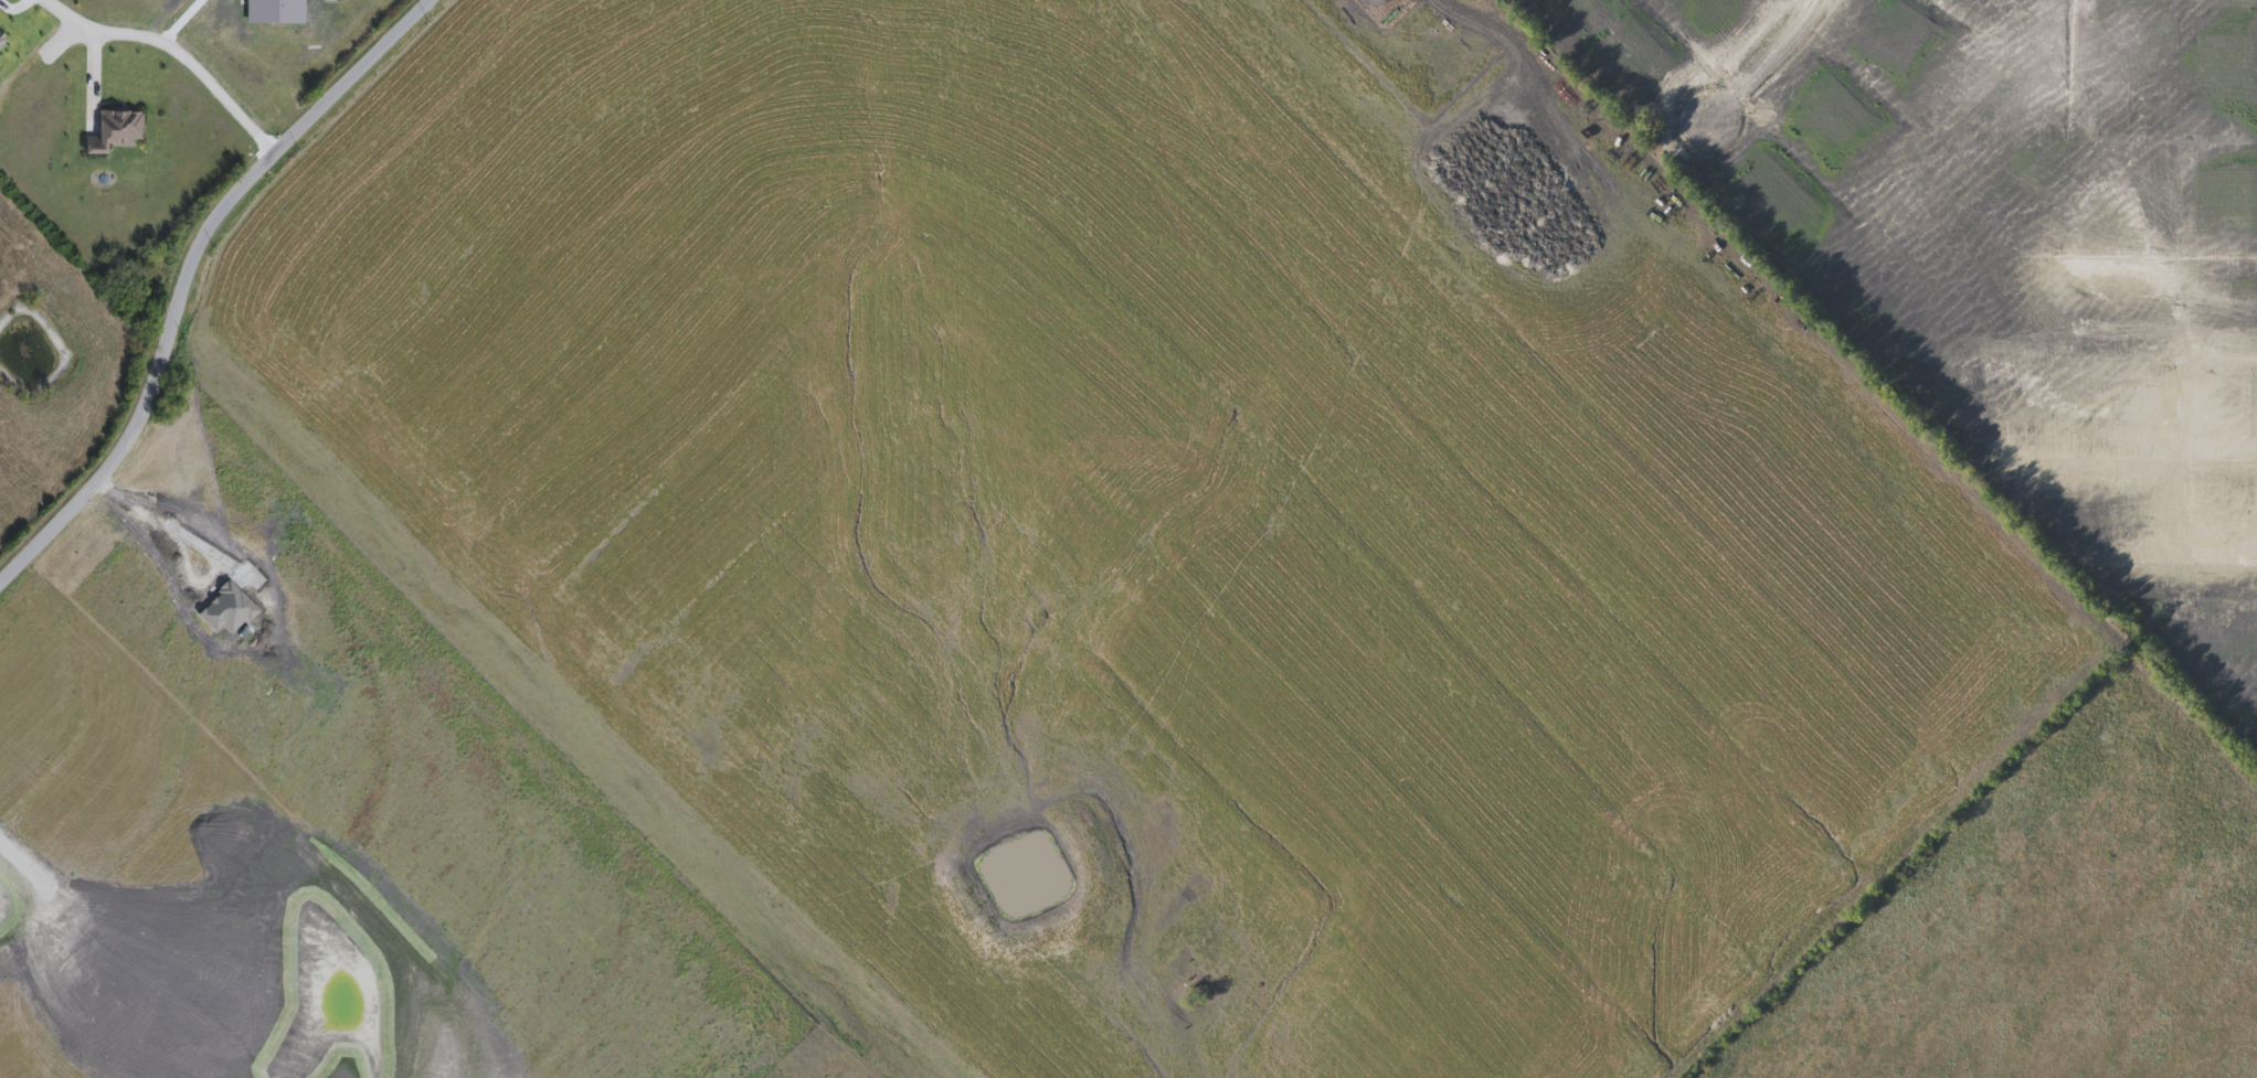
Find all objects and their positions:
road: (177, 49)
building: (119, 130)
road: (187, 273)

